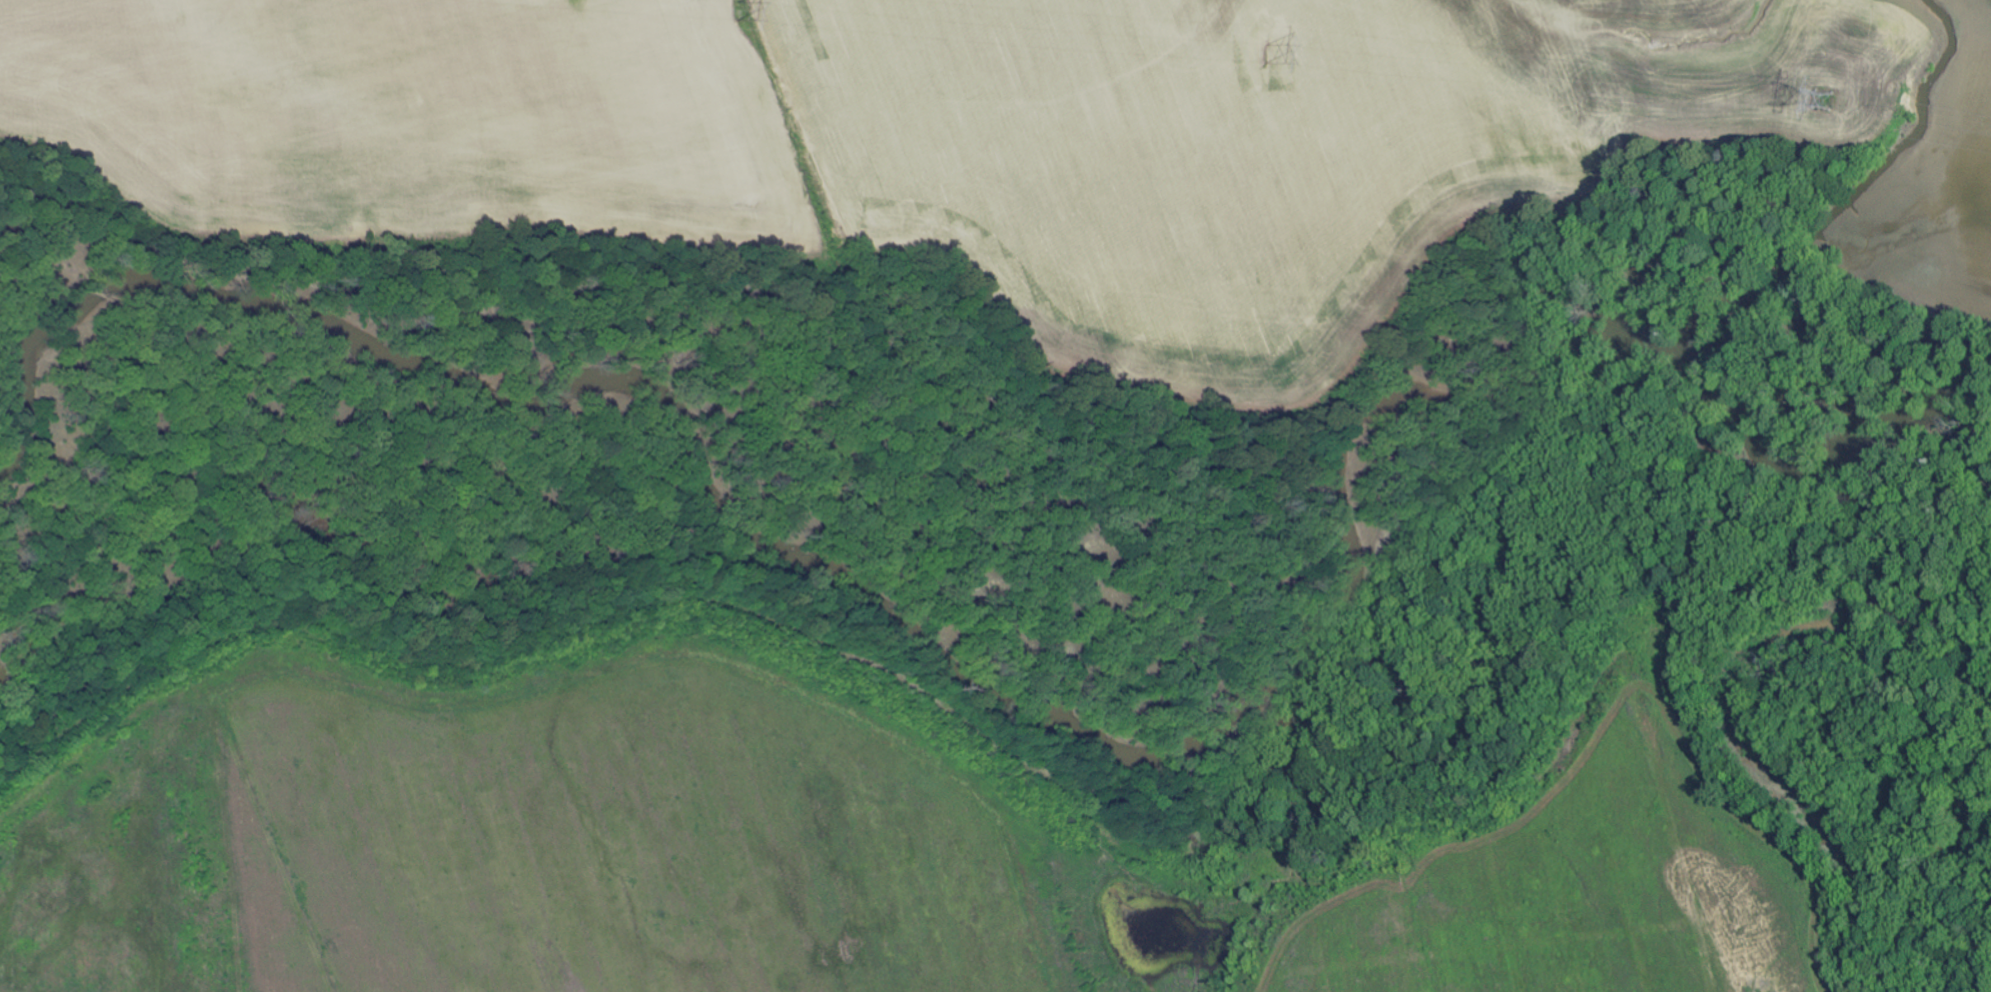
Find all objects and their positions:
power tower: (736, 12)
power tower: (1265, 55)
power tower: (1820, 100)
river: (1024, 698)

